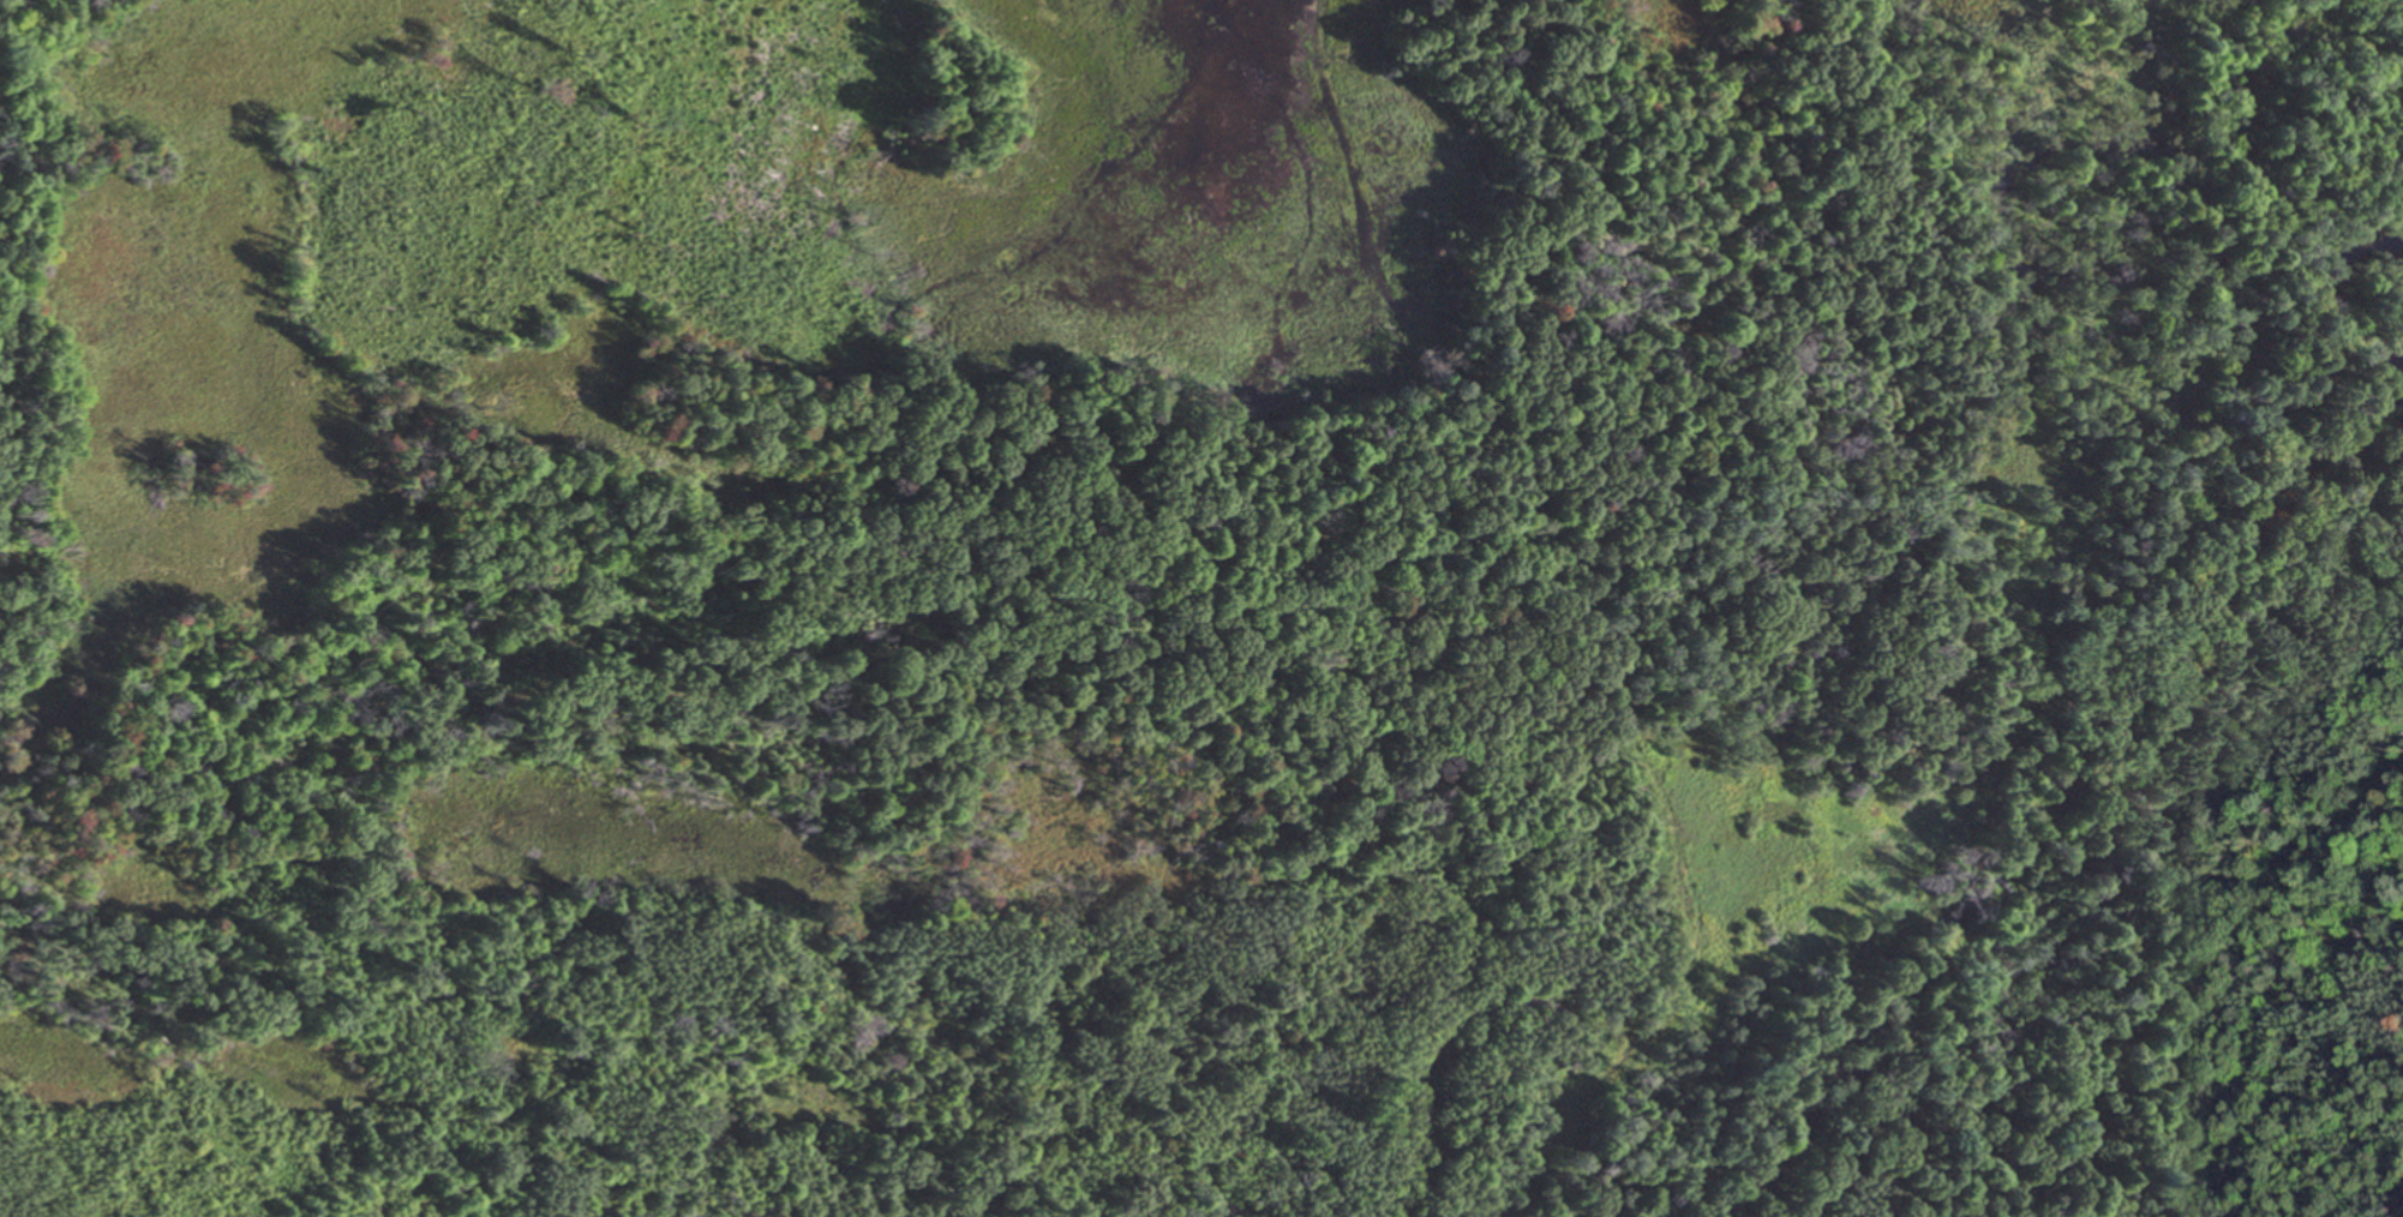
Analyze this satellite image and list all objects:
road: (2141, 687)

